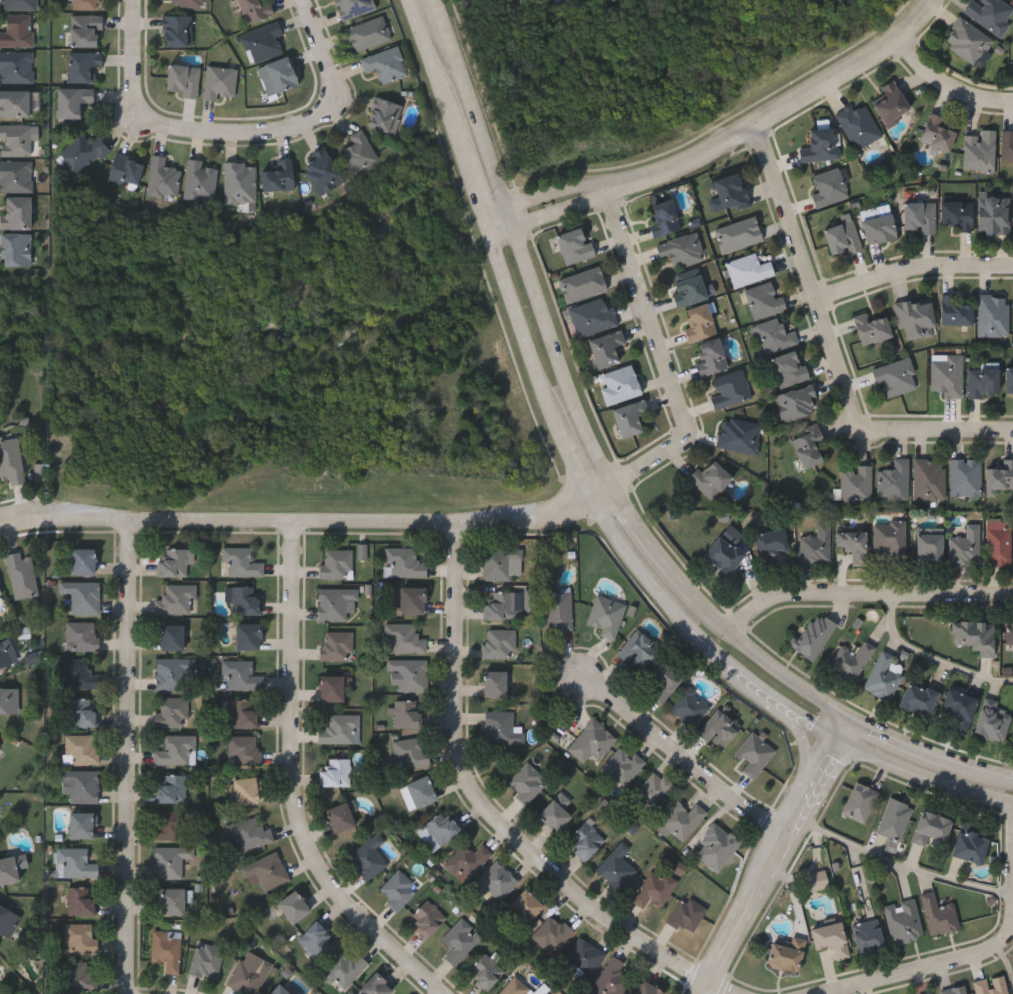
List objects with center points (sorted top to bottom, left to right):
building: (188, 3)
building: (20, 5)
building: (85, 5)
building: (355, 8)
building: (255, 10)
building: (991, 14)
building: (86, 31)
building: (18, 32)
building: (177, 32)
building: (369, 34)
road: (319, 41)
building: (968, 41)
building: (264, 42)
road: (135, 48)
building: (386, 65)
building: (17, 67)
building: (84, 67)
building: (279, 77)
building: (184, 81)
building: (221, 83)
road: (950, 84)
building: (73, 102)
building: (892, 103)
building: (15, 105)
road: (783, 111)
building: (385, 116)
building: (859, 127)
road: (243, 134)
building: (937, 134)
building: (15, 141)
building: (821, 146)
building: (1007, 149)
building: (980, 152)
building: (359, 153)
building: (82, 155)
building: (126, 172)
building: (324, 173)
building: (16, 177)
building: (280, 177)
building: (164, 179)
building: (202, 182)
building: (241, 183)
building: (829, 188)
building: (731, 191)
road: (547, 195)
building: (16, 214)
road: (553, 214)
building: (957, 216)
building: (993, 216)
building: (921, 217)
building: (663, 219)
building: (879, 230)
building: (740, 235)
building: (842, 237)
road: (528, 244)
building: (574, 247)
building: (16, 251)
building: (682, 251)
road: (914, 266)
building: (749, 270)
road: (813, 278)
building: (583, 285)
building: (688, 291)
building: (765, 301)
road: (651, 312)
building: (954, 312)
building: (993, 316)
building: (593, 318)
building: (916, 319)
building: (700, 324)
building: (872, 329)
building: (776, 337)
building: (606, 350)
building: (711, 359)
building: (789, 369)
building: (947, 375)
building: (896, 378)
building: (1009, 383)
building: (983, 384)
building: (620, 386)
building: (730, 391)
building: (796, 405)
building: (629, 419)
road: (938, 432)
building: (739, 437)
building: (808, 447)
building: (10, 461)
road: (655, 464)
building: (966, 476)
building: (1000, 476)
building: (895, 479)
building: (929, 479)
building: (711, 480)
building: (856, 484)
road: (606, 495)
road: (596, 501)
road: (299, 529)
building: (891, 538)
building: (854, 543)
building: (1000, 543)
road: (654, 545)
building: (816, 546)
building: (931, 546)
building: (770, 547)
building: (966, 547)
building: (724, 555)
building: (82, 560)
building: (241, 561)
building: (404, 561)
building: (174, 562)
building: (336, 563)
building: (502, 563)
building: (22, 573)
building: (0, 589)
building: (1, 592)
building: (82, 596)
building: (176, 598)
road: (866, 598)
building: (245, 600)
building: (412, 600)
building: (505, 604)
building: (559, 610)
road: (714, 613)
building: (607, 614)
building: (1009, 632)
building: (80, 636)
building: (171, 636)
building: (248, 636)
building: (813, 636)
building: (975, 636)
building: (404, 638)
building: (499, 643)
building: (336, 645)
building: (639, 650)
building: (5, 653)
road: (933, 657)
building: (852, 661)
building: (409, 673)
building: (77, 674)
building: (170, 674)
building: (241, 675)
road: (787, 675)
building: (884, 676)
building: (664, 680)
building: (495, 683)
building: (333, 686)
building: (9, 698)
building: (918, 700)
building: (689, 707)
building: (958, 709)
building: (171, 711)
building: (82, 712)
building: (244, 713)
building: (407, 715)
building: (993, 721)
building: (502, 728)
building: (341, 729)
building: (718, 730)
road: (802, 739)
building: (592, 741)
building: (81, 749)
building: (245, 749)
road: (909, 749)
building: (176, 750)
building: (411, 751)
building: (754, 754)
road: (682, 757)
road: (134, 761)
building: (623, 766)
building: (336, 771)
road: (994, 779)
building: (526, 782)
building: (81, 785)
building: (172, 788)
road: (299, 788)
building: (246, 790)
building: (654, 790)
building: (418, 792)
building: (859, 803)
building: (556, 812)
road: (492, 814)
building: (340, 817)
building: (894, 819)
building: (682, 820)
building: (81, 824)
building: (171, 825)
building: (930, 828)
building: (438, 830)
building: (249, 833)
building: (587, 838)
building: (717, 846)
building: (969, 846)
road: (769, 853)
building: (368, 857)
building: (170, 861)
building: (468, 861)
building: (75, 862)
road: (899, 862)
building: (617, 866)
building: (8, 867)
building: (266, 871)
building: (494, 881)
building: (655, 888)
building: (398, 890)
building: (171, 900)
building: (80, 901)
building: (293, 906)
building: (525, 906)
building: (687, 914)
building: (938, 916)
building: (428, 918)
building: (8, 919)
building: (902, 923)
building: (552, 934)
building: (867, 936)
building: (80, 938)
building: (317, 939)
building: (460, 940)
building: (167, 949)
building: (785, 956)
building: (207, 960)
building: (584, 960)
building: (344, 970)
road: (941, 970)
building: (485, 972)
building: (78, 976)
building: (249, 976)
building: (611, 979)
building: (376, 985)
building: (990, 986)
building: (515, 987)
building: (647, 988)
building: (278, 990)
building: (954, 991)

